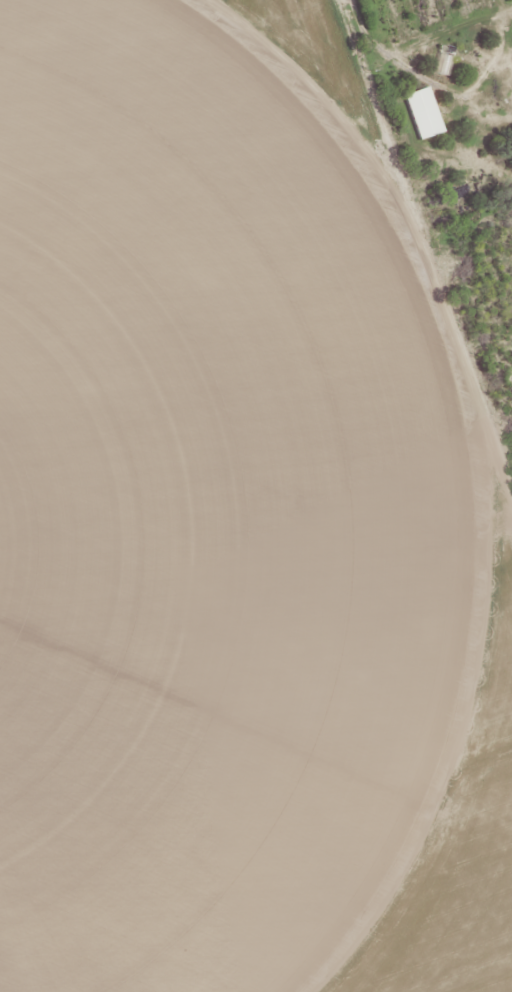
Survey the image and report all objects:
building: (423, 113)

